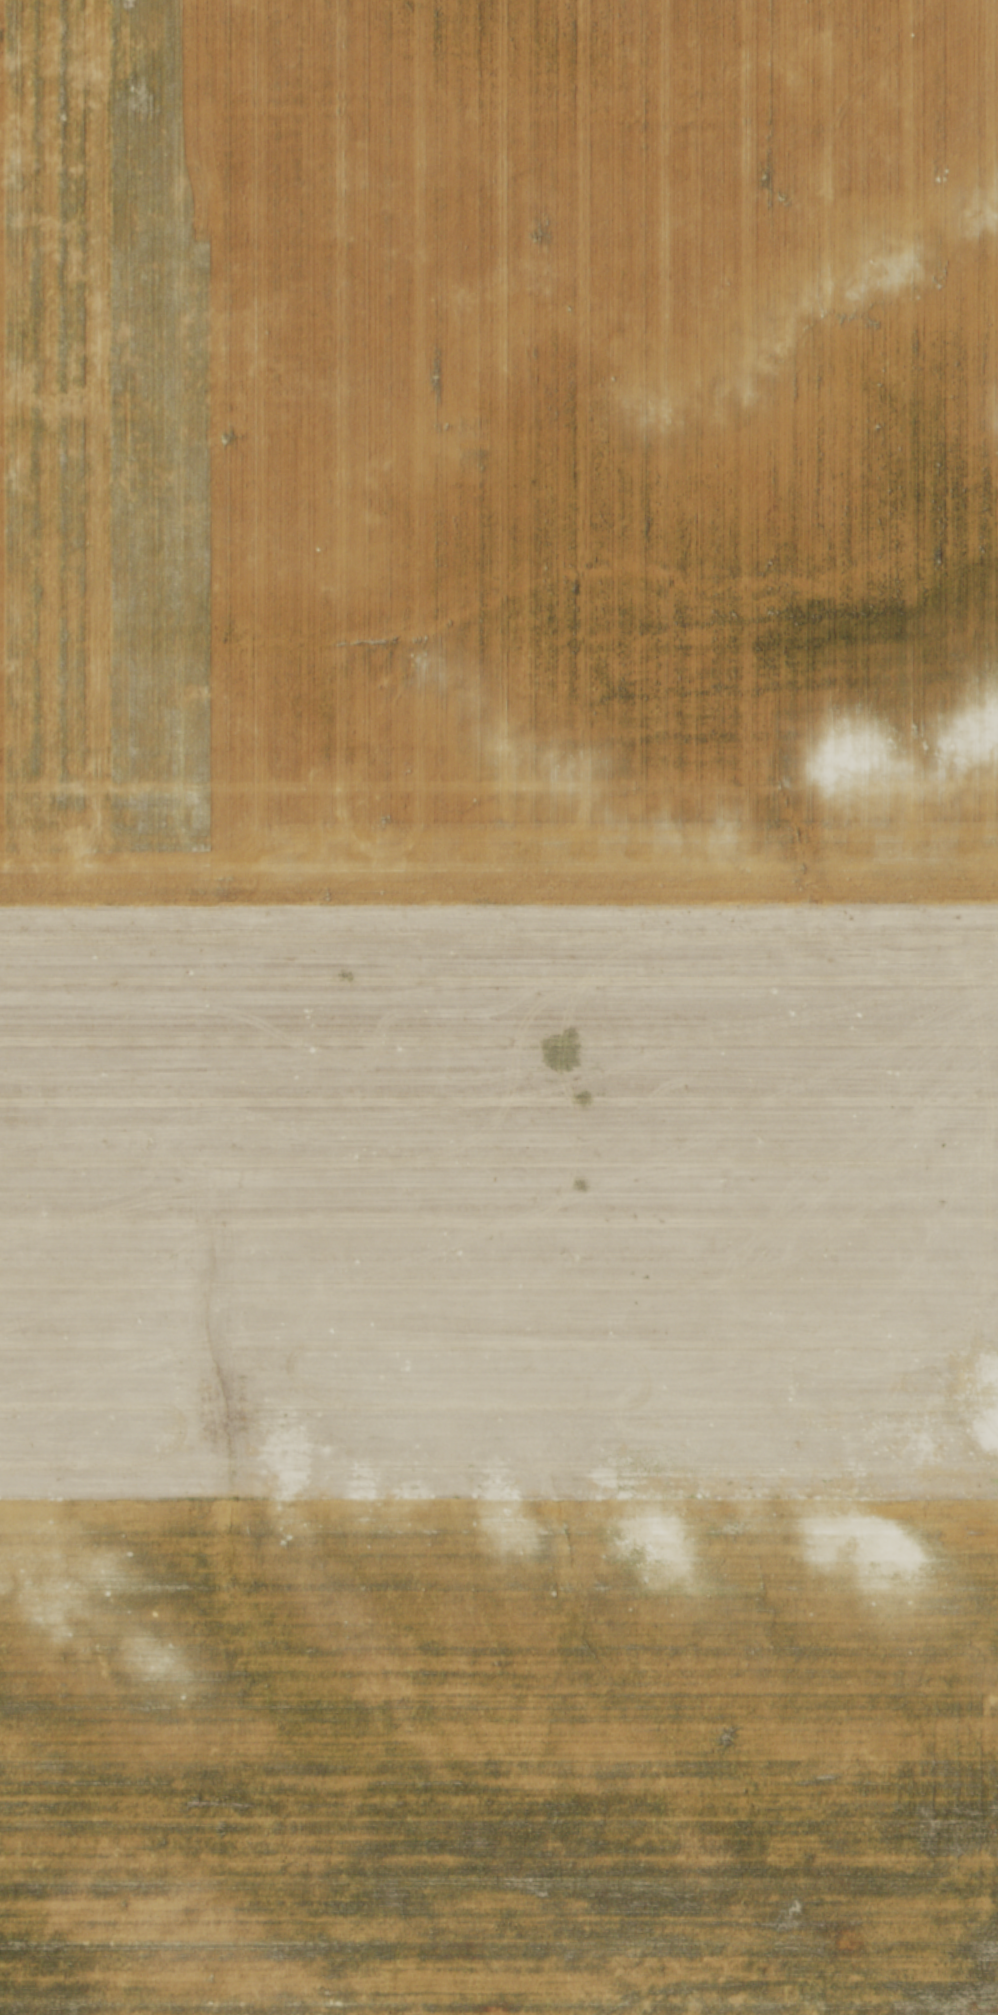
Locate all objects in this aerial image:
crop: (499, 1007)

